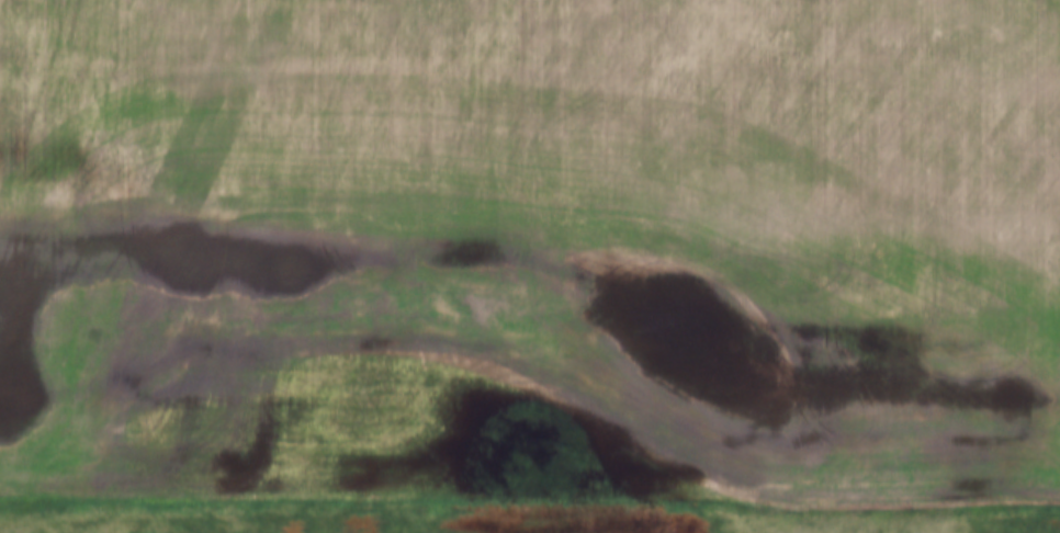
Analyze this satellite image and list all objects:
road: (530, 470)

